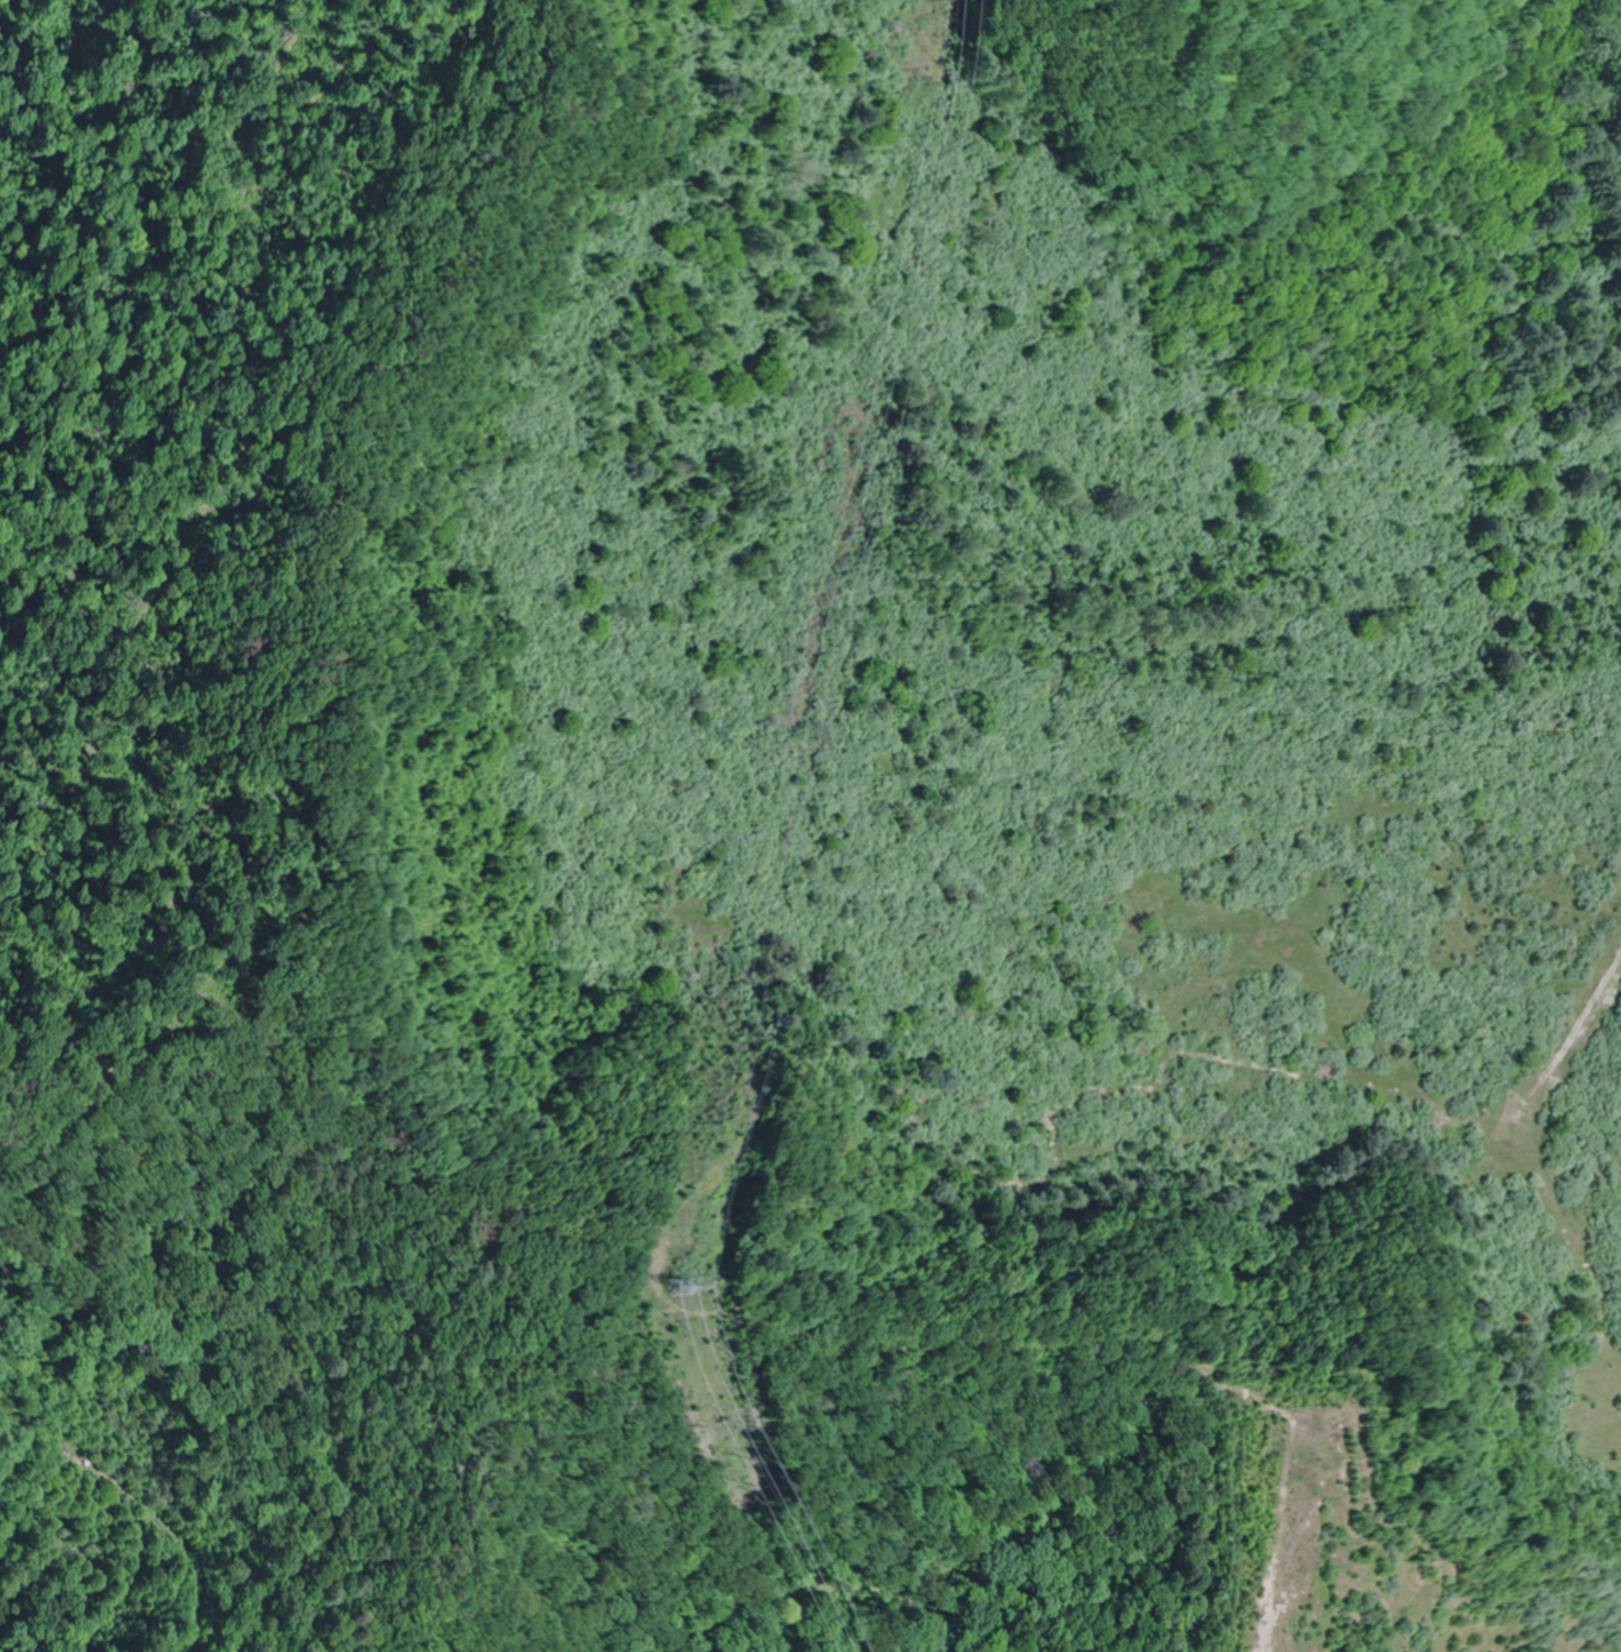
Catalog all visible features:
power tower: (673, 1288)

